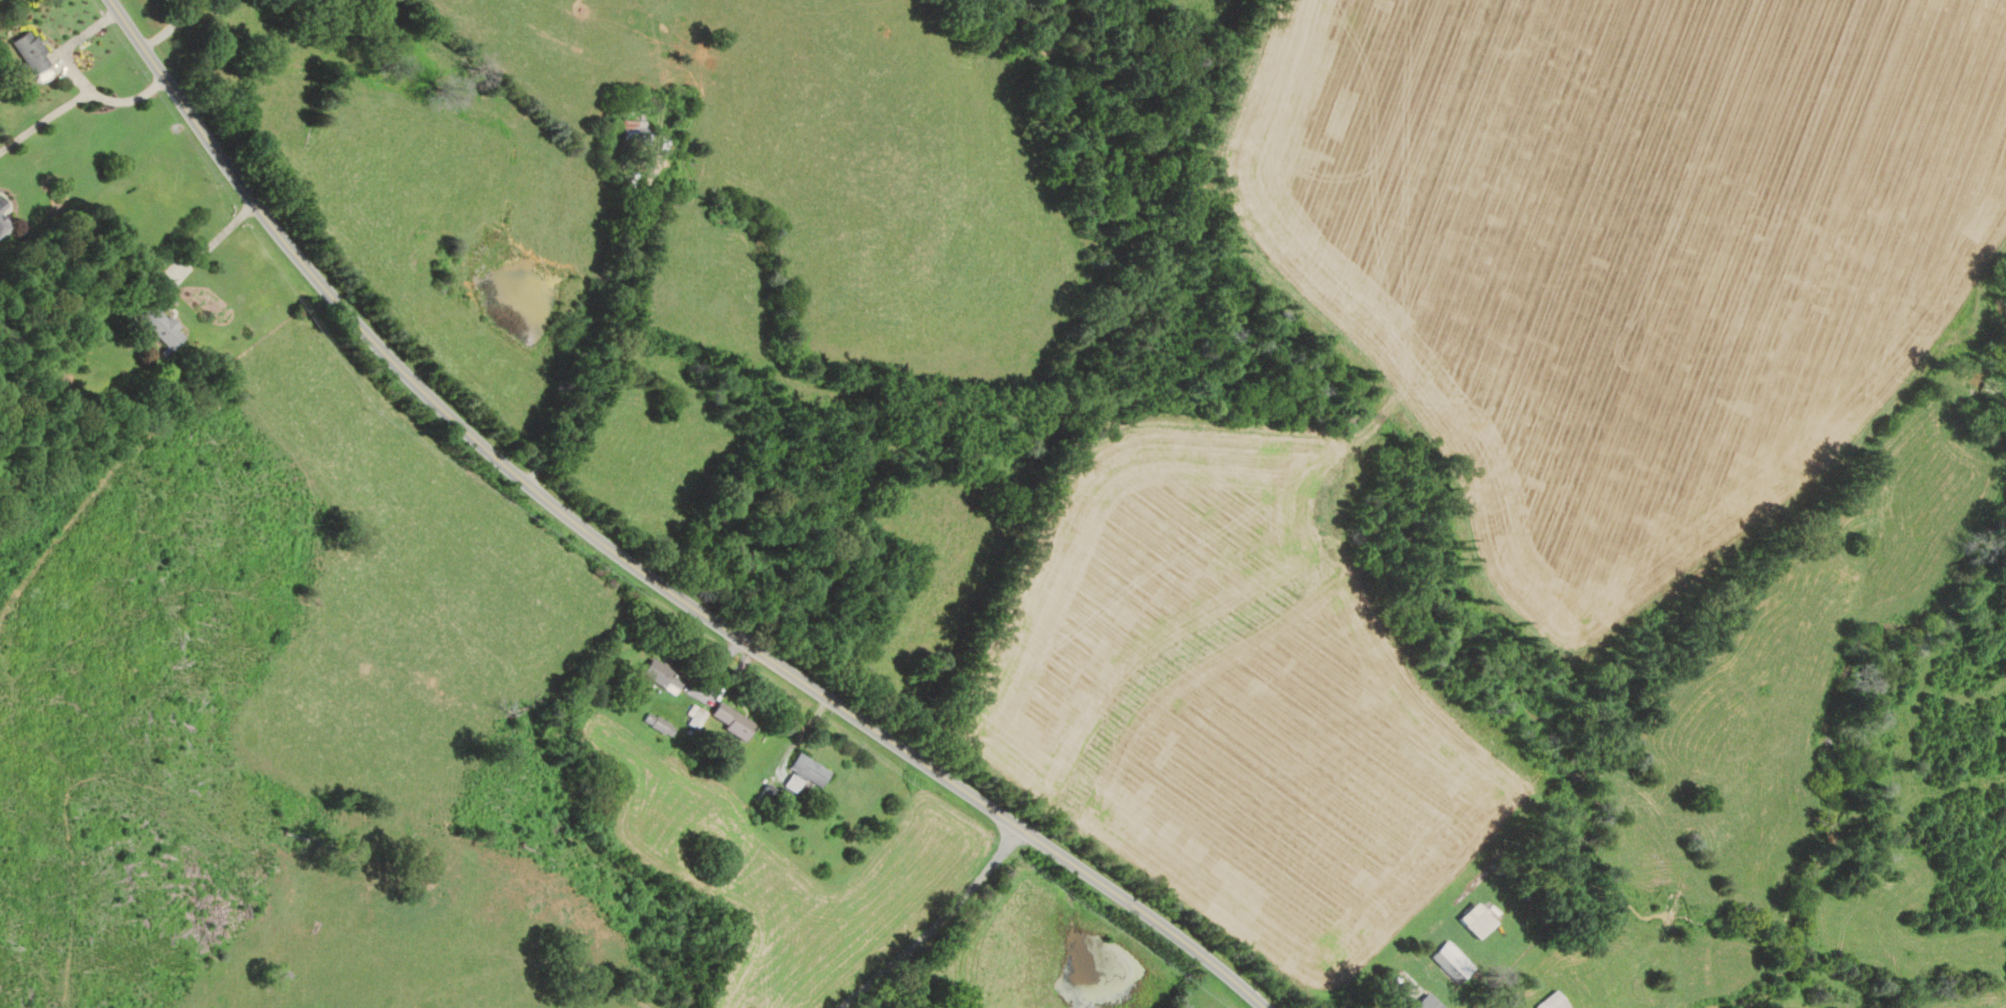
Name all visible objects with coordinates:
road: (172, 25)
building: (27, 52)
road: (79, 76)
road: (45, 120)
building: (632, 131)
building: (1, 206)
building: (1, 224)
road: (211, 242)
road: (608, 322)
building: (157, 324)
road: (638, 559)
building: (659, 675)
road: (714, 687)
building: (694, 717)
building: (729, 721)
building: (655, 724)
building: (803, 771)
road: (929, 917)
building: (1476, 924)
building: (1451, 961)
road: (1401, 995)
building: (1424, 1002)
building: (1549, 1002)

